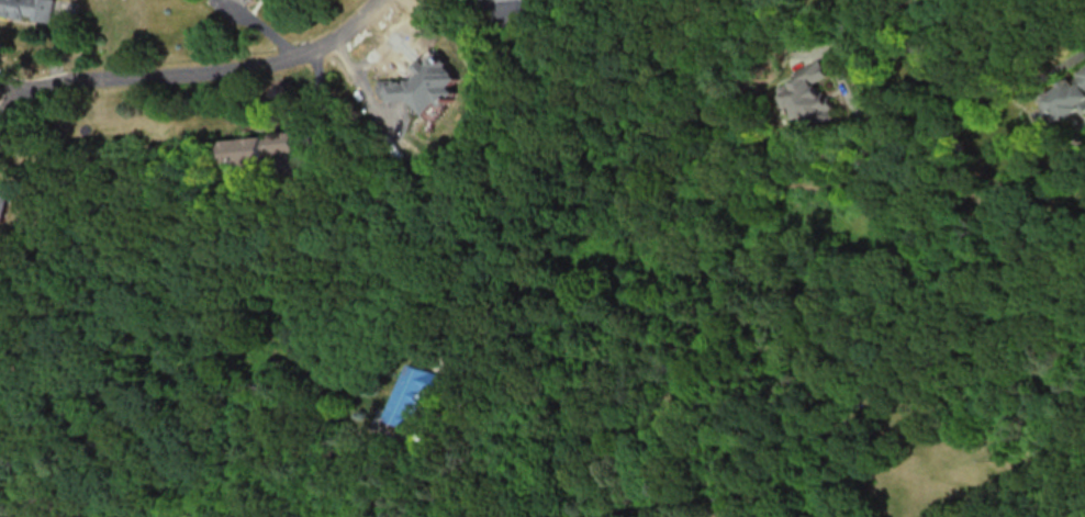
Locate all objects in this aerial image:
building: (246, 1)
building: (29, 9)
road: (928, 12)
road: (197, 79)
building: (423, 83)
road: (993, 85)
building: (806, 94)
building: (1062, 103)
building: (260, 145)
building: (4, 205)
building: (416, 392)
road: (481, 443)
road: (32, 499)

